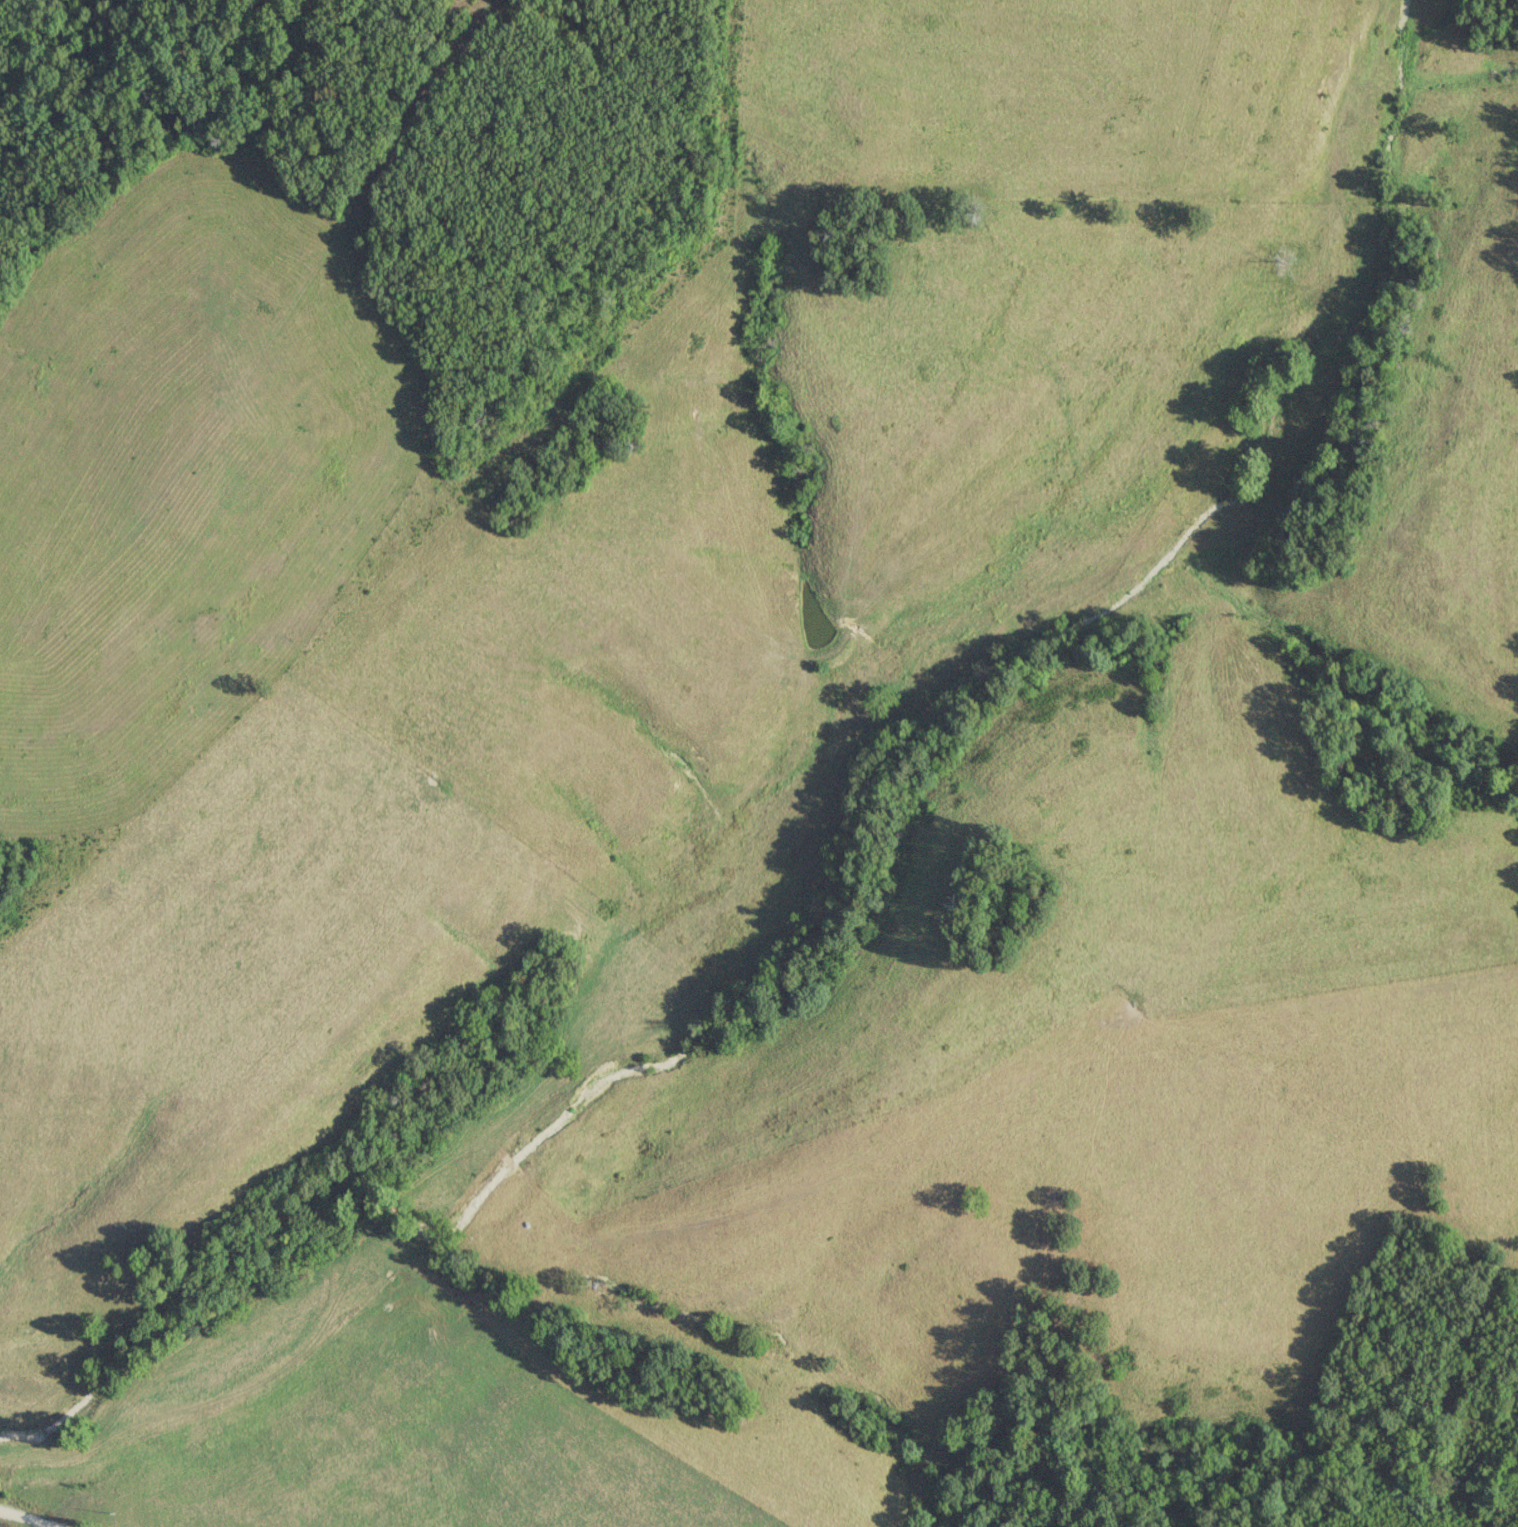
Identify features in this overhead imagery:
road: (21, 1519)

